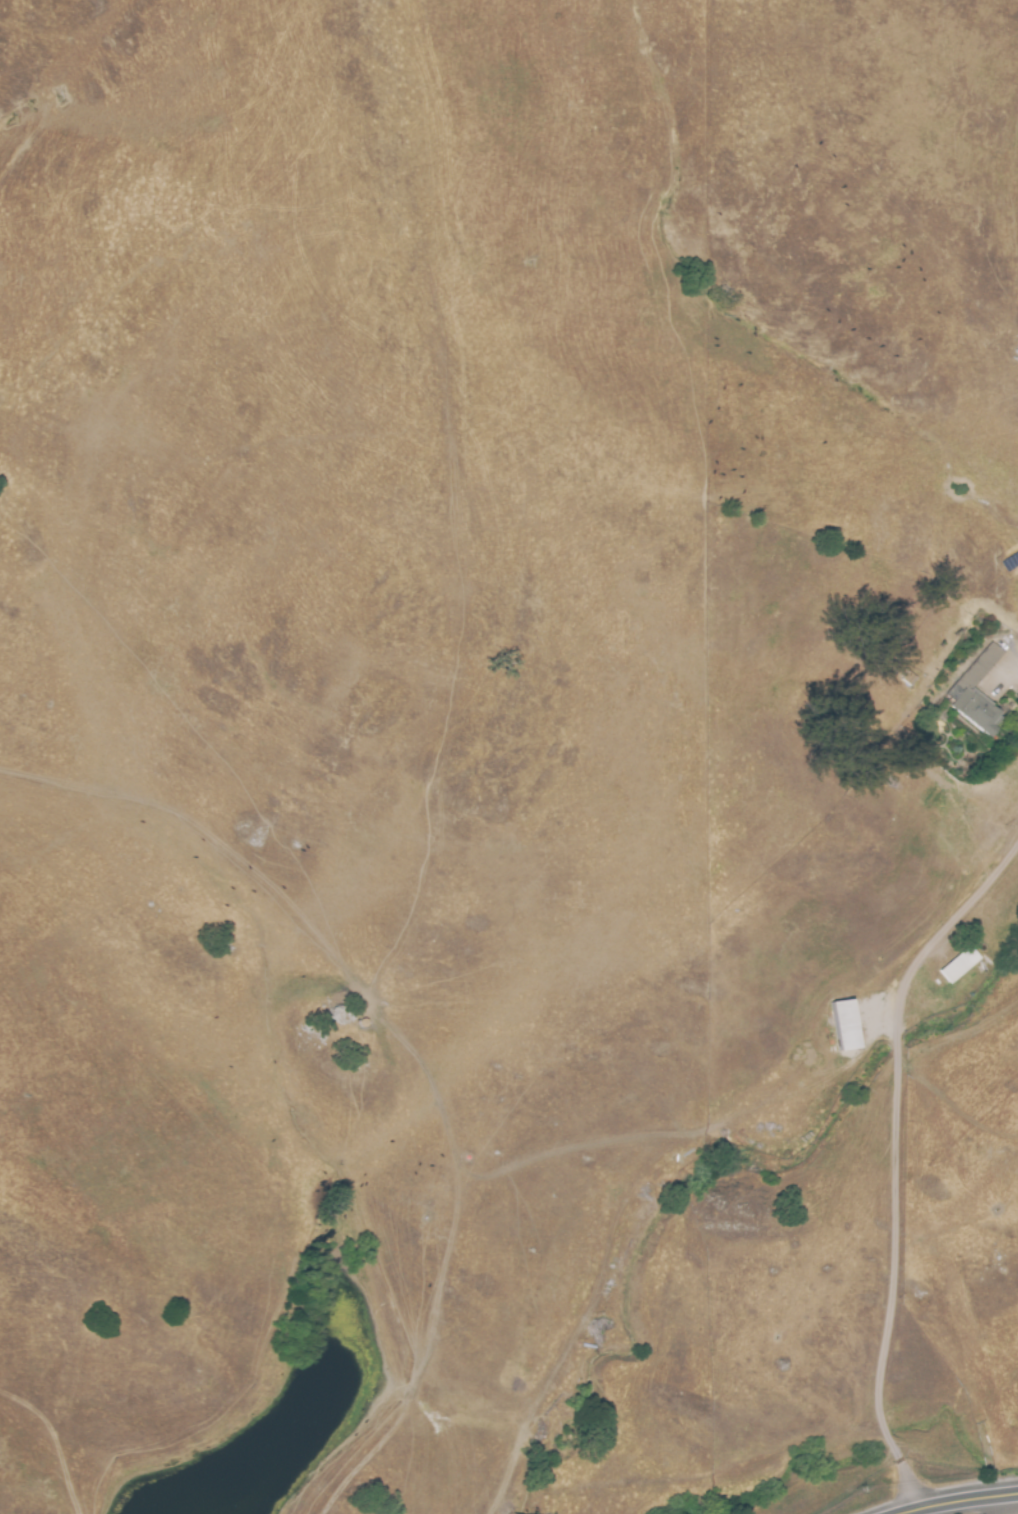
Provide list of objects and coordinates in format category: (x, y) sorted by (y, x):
building: (1004, 645)
building: (909, 679)
building: (976, 693)
building: (965, 971)
building: (843, 1025)
road: (896, 1158)
road: (958, 1501)

